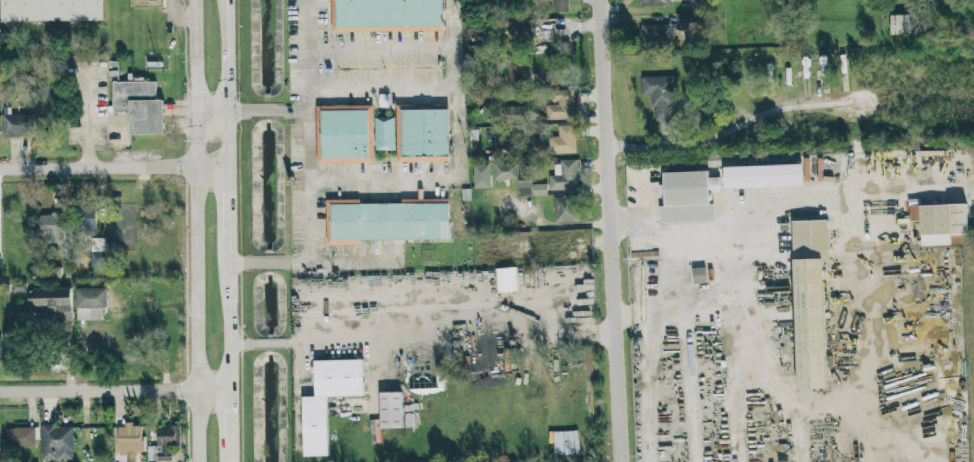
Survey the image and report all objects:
building: (656, 2)
building: (148, 3)
building: (697, 5)
building: (561, 6)
building: (51, 10)
building: (387, 16)
building: (899, 24)
building: (664, 30)
road: (381, 50)
building: (519, 72)
road: (226, 83)
road: (381, 88)
traffic signals: (198, 92)
building: (660, 94)
building: (561, 105)
building: (139, 107)
road: (211, 111)
road: (265, 111)
building: (18, 125)
road: (729, 131)
building: (385, 133)
building: (345, 134)
building: (422, 134)
road: (198, 136)
building: (563, 141)
traffic signals: (225, 144)
road: (459, 159)
road: (111, 168)
road: (308, 168)
building: (507, 171)
building: (483, 176)
building: (565, 176)
building: (762, 176)
building: (525, 188)
building: (540, 190)
building: (688, 197)
road: (780, 201)
road: (224, 202)
building: (566, 209)
building: (88, 221)
building: (389, 221)
building: (941, 224)
road: (563, 226)
building: (51, 228)
road: (612, 230)
building: (98, 253)
road: (347, 262)
building: (699, 275)
building: (506, 279)
building: (19, 287)
building: (810, 301)
building: (52, 302)
building: (91, 303)
road: (225, 314)
road: (421, 332)
road: (872, 340)
road: (652, 351)
road: (757, 362)
road: (200, 368)
building: (390, 387)
road: (113, 391)
road: (227, 423)
building: (315, 426)
road: (799, 433)
building: (20, 438)
building: (130, 442)
building: (57, 443)
building: (165, 443)
road: (228, 459)

